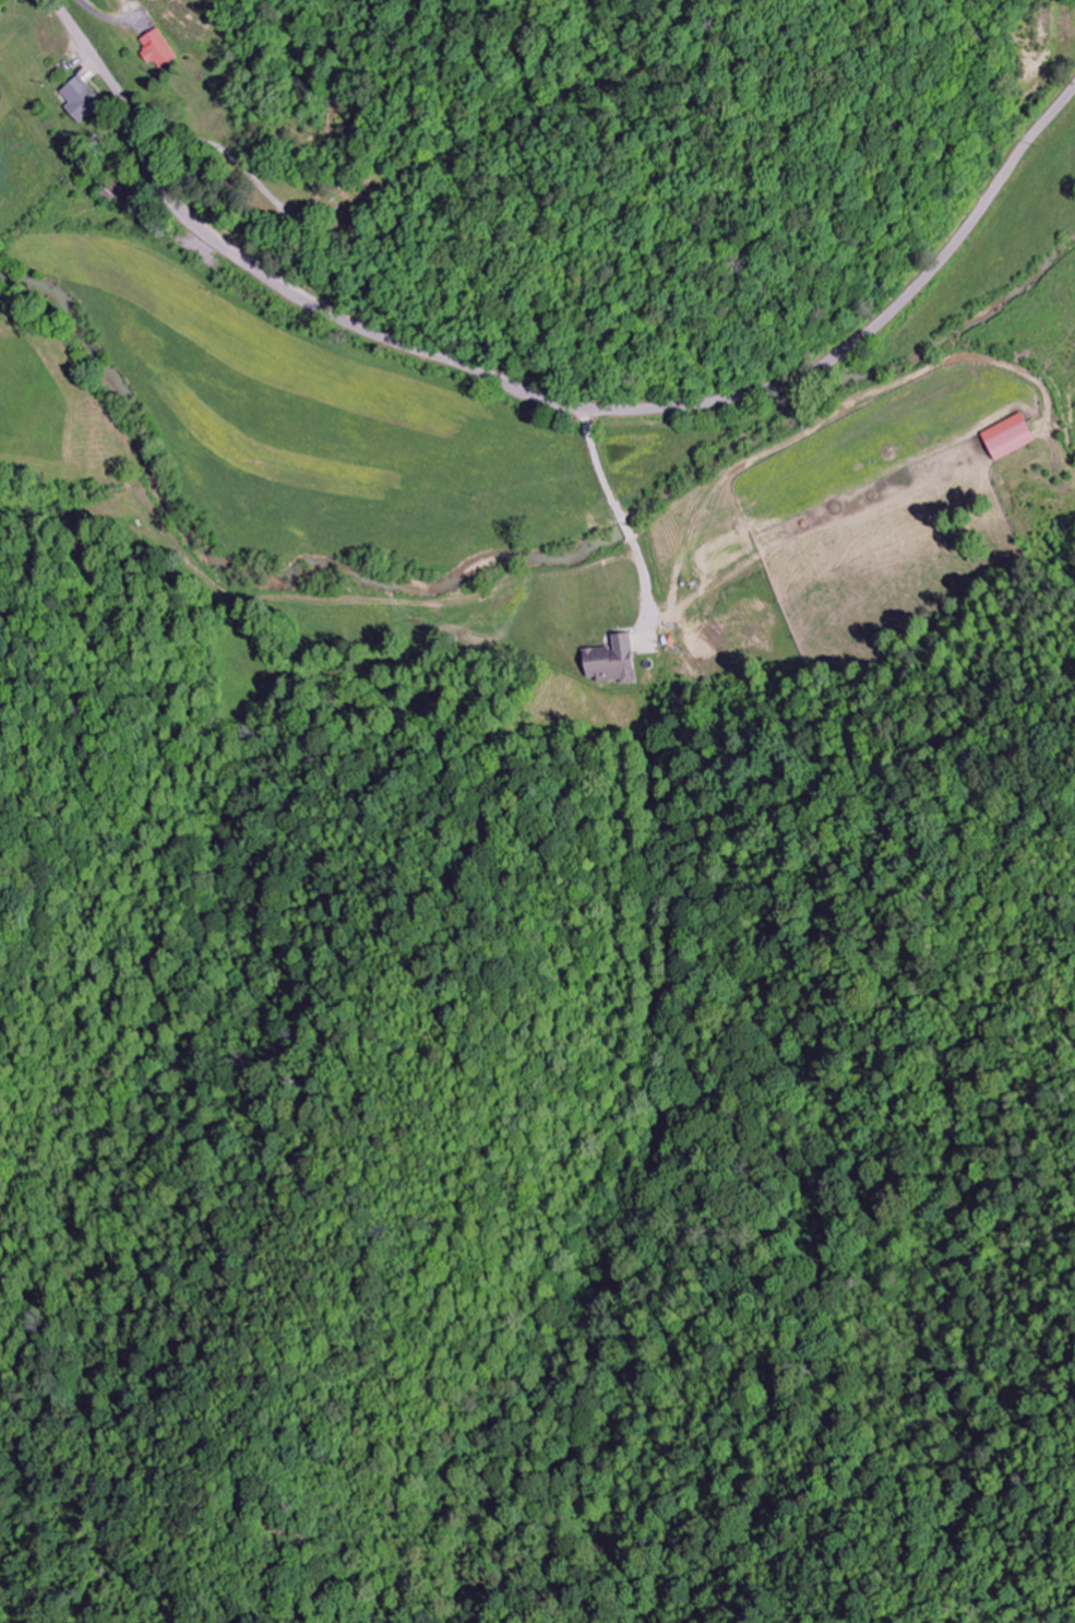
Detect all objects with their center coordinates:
building: (157, 49)
building: (81, 99)
road: (254, 175)
road: (548, 400)
building: (1006, 437)
building: (609, 661)

